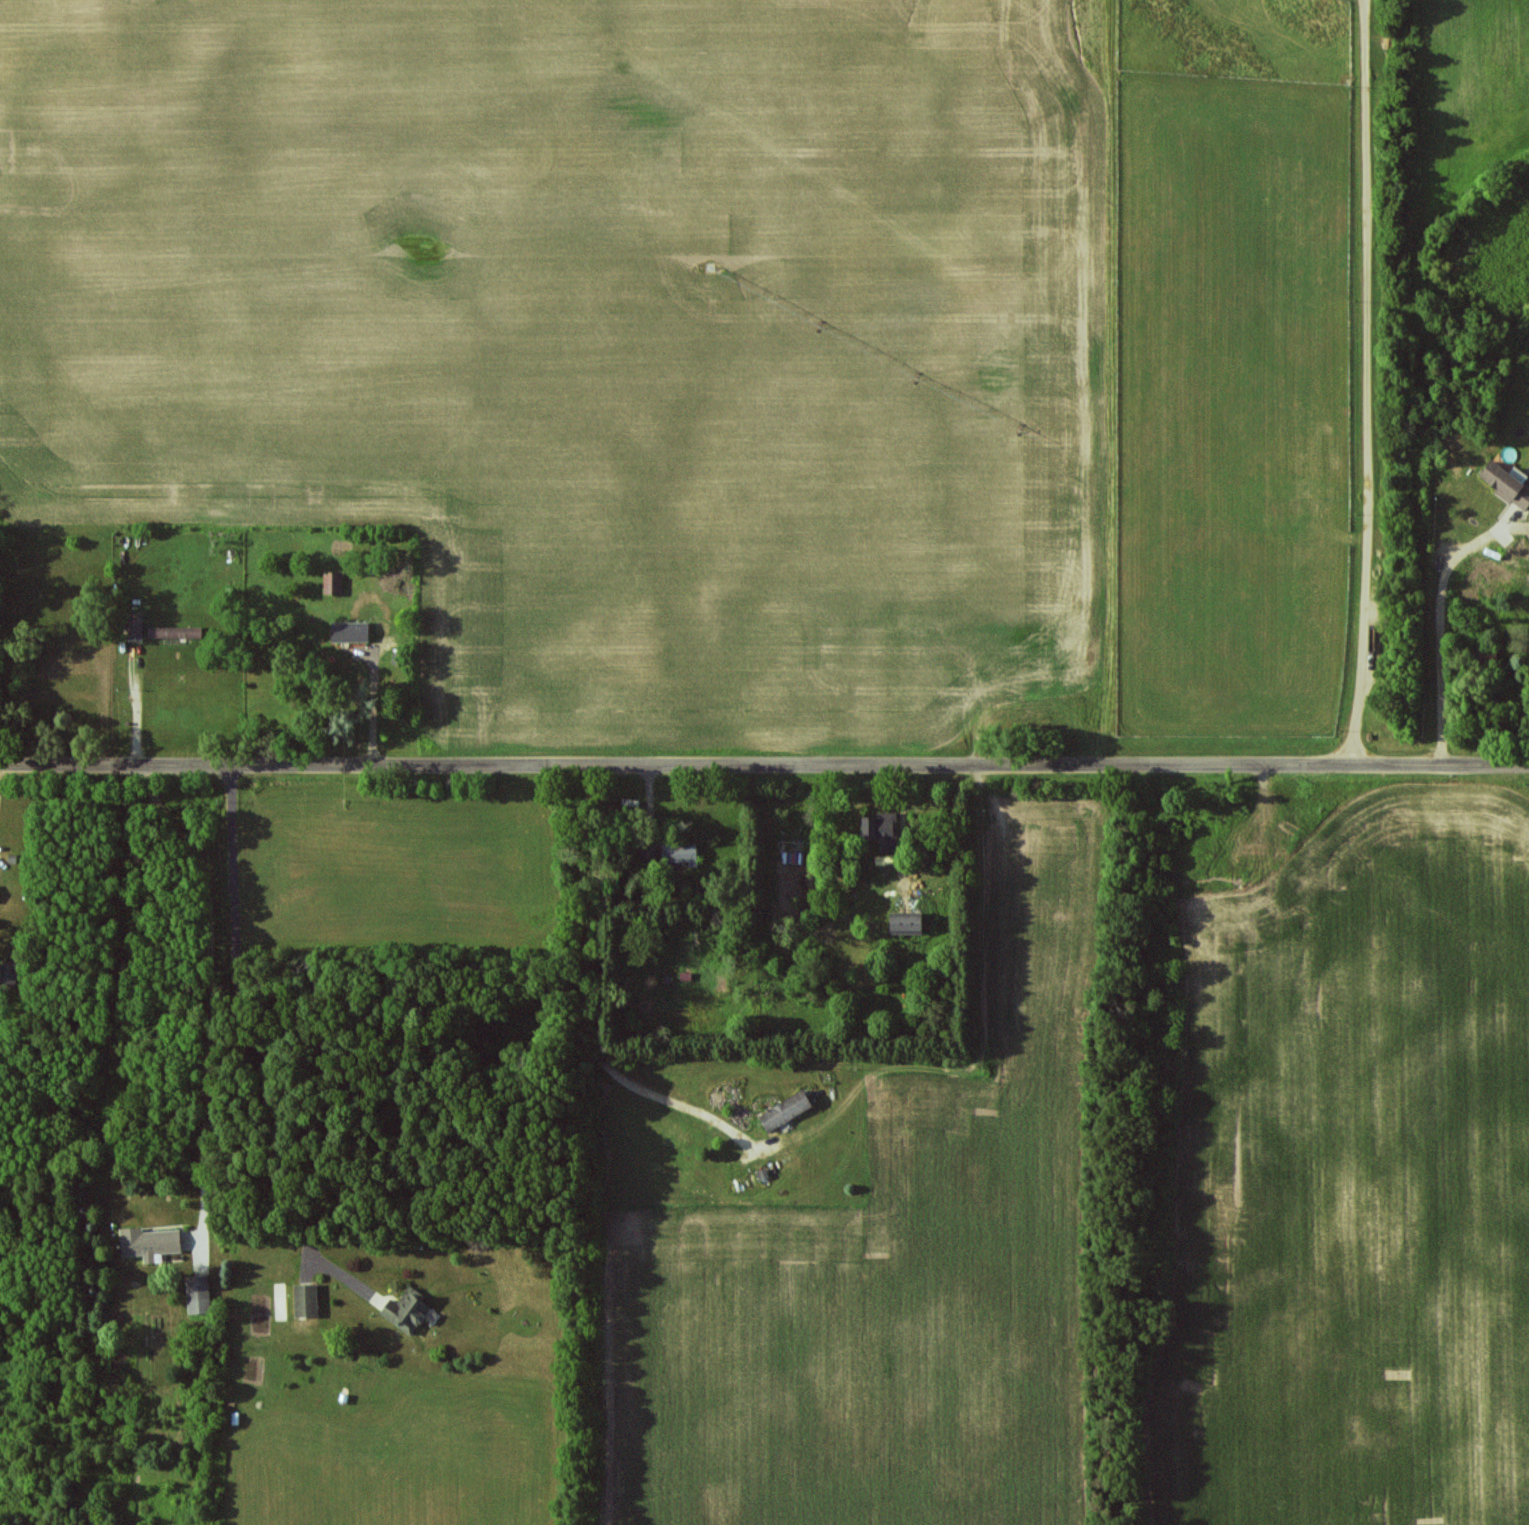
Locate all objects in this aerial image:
road: (1366, 383)
building: (1509, 483)
building: (335, 582)
building: (138, 628)
road: (1441, 630)
building: (353, 631)
building: (176, 632)
road: (764, 765)
building: (885, 831)
building: (682, 853)
building: (651, 857)
building: (911, 923)
road: (244, 1045)
building: (788, 1110)
building: (152, 1243)
building: (201, 1295)
building: (308, 1301)
building: (409, 1311)

